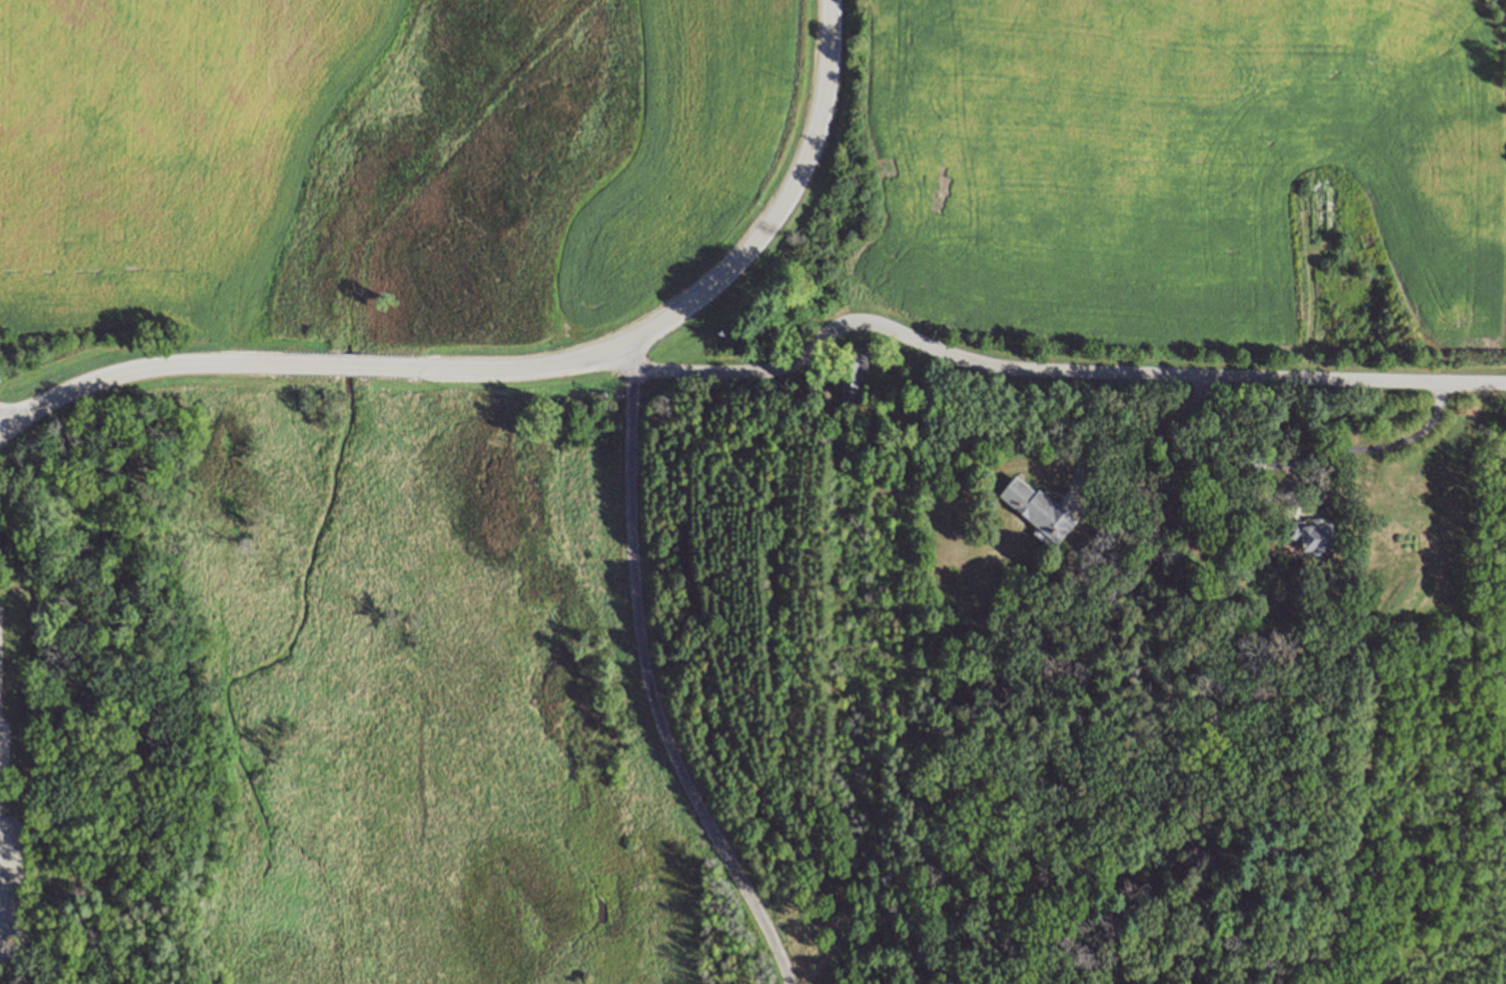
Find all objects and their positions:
road: (520, 370)
road: (1047, 371)
building: (852, 374)
road: (0, 431)
road: (1128, 436)
road: (1358, 449)
building: (1251, 465)
building: (1038, 508)
building: (1310, 533)
road: (651, 689)

